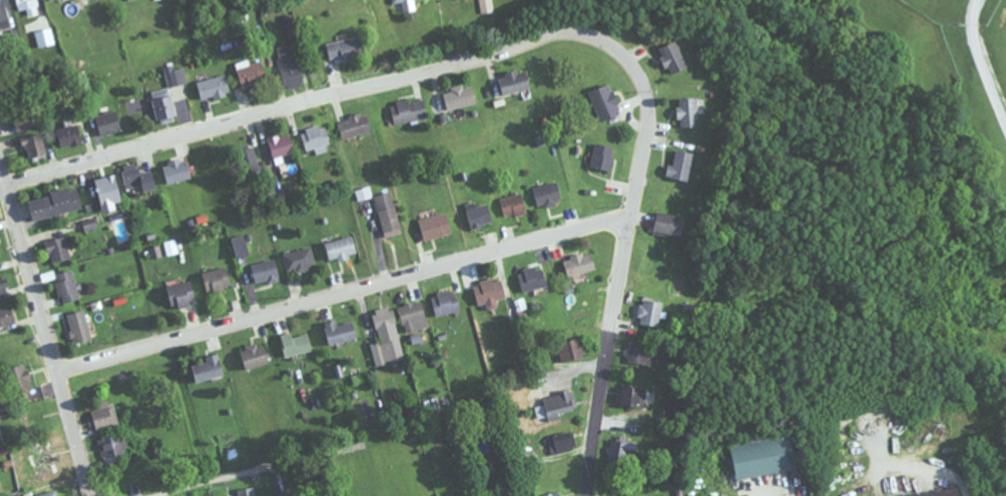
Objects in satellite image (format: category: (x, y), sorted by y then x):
building: (129, 0)
building: (24, 3)
building: (406, 4)
building: (3, 12)
building: (350, 48)
building: (670, 56)
building: (288, 71)
building: (249, 73)
building: (177, 75)
building: (513, 82)
building: (212, 87)
road: (346, 89)
building: (458, 97)
building: (603, 101)
building: (162, 105)
building: (408, 111)
building: (686, 111)
building: (26, 118)
building: (107, 126)
building: (353, 126)
building: (67, 134)
building: (313, 137)
building: (33, 145)
building: (280, 145)
building: (602, 158)
building: (246, 159)
building: (678, 165)
building: (174, 170)
building: (137, 175)
building: (106, 189)
building: (545, 194)
building: (53, 203)
building: (511, 205)
building: (386, 214)
building: (477, 216)
building: (665, 223)
building: (433, 226)
building: (340, 248)
building: (57, 250)
building: (298, 259)
building: (578, 264)
building: (264, 272)
building: (530, 279)
building: (216, 280)
building: (2, 286)
building: (67, 286)
building: (488, 293)
building: (180, 295)
road: (343, 296)
building: (444, 302)
road: (617, 303)
building: (648, 312)
building: (412, 316)
building: (6, 317)
building: (77, 326)
road: (45, 330)
building: (339, 331)
building: (385, 336)
building: (295, 343)
building: (570, 349)
building: (637, 354)
building: (252, 355)
building: (206, 369)
building: (16, 377)
building: (635, 396)
building: (557, 406)
building: (103, 417)
building: (34, 419)
building: (562, 442)
building: (483, 443)
building: (112, 448)
building: (621, 451)
building: (763, 455)
road: (262, 472)
building: (250, 491)
building: (499, 492)
building: (46, 493)
building: (941, 493)
building: (552, 494)

